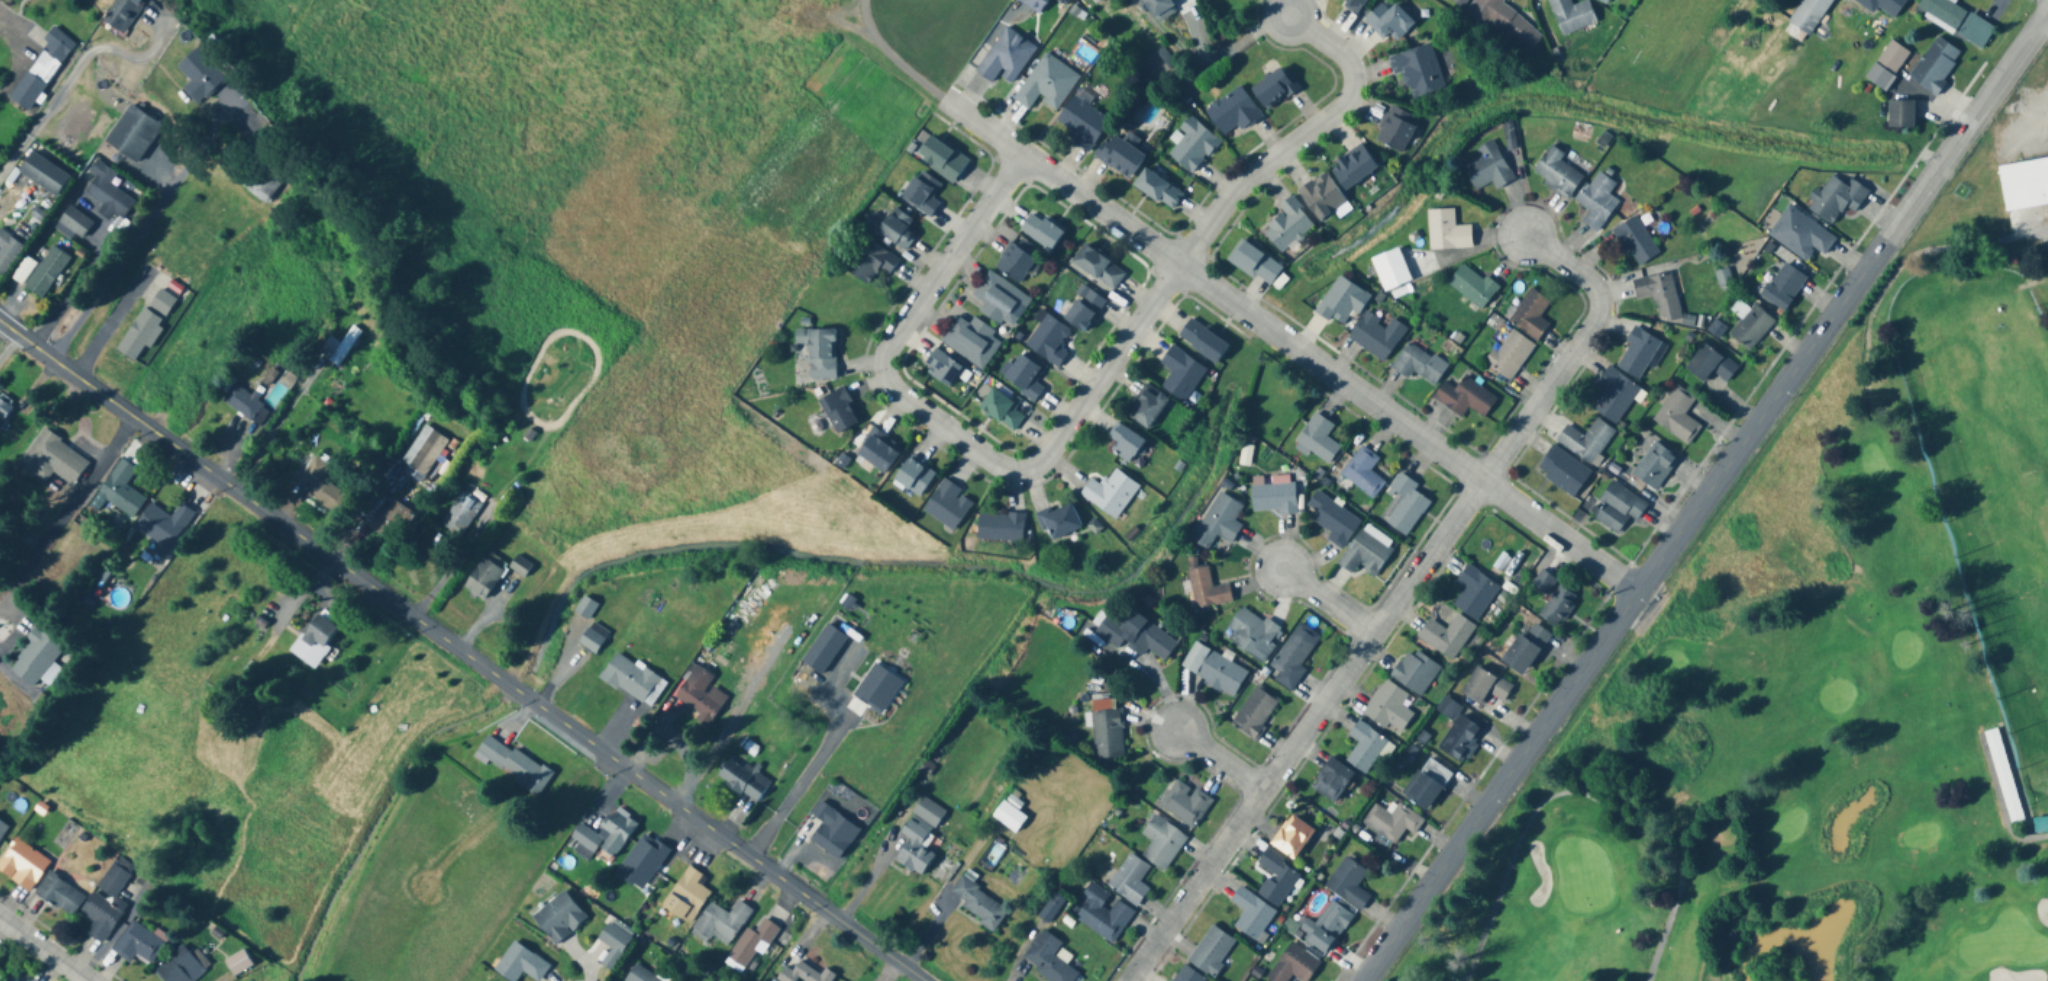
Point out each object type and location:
building: (1603, 1)
building: (1460, 2)
building: (1034, 4)
building: (1354, 5)
building: (1160, 9)
building: (1941, 12)
building: (123, 14)
building: (1571, 15)
building: (1806, 17)
building: (1389, 22)
building: (1503, 22)
road: (1225, 45)
road: (889, 55)
building: (1005, 58)
road: (67, 65)
building: (1886, 65)
building: (1934, 65)
building: (41, 70)
building: (1418, 71)
building: (201, 76)
building: (1047, 84)
building: (1273, 88)
building: (1232, 112)
building: (1899, 114)
building: (1082, 123)
building: (1396, 130)
building: (133, 134)
road: (1299, 136)
building: (1192, 145)
building: (1120, 156)
building: (940, 159)
building: (1353, 167)
building: (1488, 168)
building: (1556, 173)
building: (43, 174)
building: (2024, 181)
building: (262, 182)
building: (1157, 189)
building: (922, 193)
building: (1321, 196)
building: (108, 198)
building: (1836, 198)
building: (1597, 201)
building: (74, 222)
building: (1287, 225)
building: (892, 228)
building: (1041, 231)
building: (1446, 231)
road: (143, 232)
building: (1800, 234)
building: (1636, 240)
building: (8, 251)
building: (870, 261)
building: (1254, 262)
building: (1014, 263)
building: (1098, 266)
building: (46, 272)
building: (1473, 284)
building: (1783, 286)
road: (72, 288)
building: (1659, 295)
building: (1001, 301)
building: (1341, 301)
building: (1083, 309)
building: (1530, 314)
road: (104, 318)
building: (149, 321)
building: (1751, 327)
building: (1376, 336)
road: (7, 340)
building: (1049, 341)
building: (1202, 341)
building: (972, 342)
road: (1290, 342)
building: (339, 347)
building: (1637, 353)
building: (816, 354)
building: (1509, 355)
building: (1418, 364)
building: (1710, 365)
building: (942, 368)
building: (1180, 374)
building: (1024, 378)
building: (1613, 396)
building: (1464, 398)
building: (246, 406)
building: (1146, 407)
building: (5, 409)
building: (839, 411)
building: (1002, 411)
building: (1677, 416)
road: (950, 429)
building: (1318, 439)
building: (1586, 441)
building: (1124, 442)
building: (878, 450)
building: (424, 451)
building: (57, 455)
building: (1654, 466)
building: (1562, 470)
building: (1363, 472)
building: (914, 476)
building: (323, 486)
building: (121, 489)
building: (1110, 493)
building: (1273, 496)
road: (1706, 499)
road: (63, 502)
building: (1404, 504)
building: (947, 505)
building: (1617, 506)
building: (460, 516)
building: (388, 519)
building: (1333, 519)
building: (1058, 521)
building: (1217, 522)
building: (163, 524)
building: (1000, 527)
building: (1366, 552)
building: (496, 572)
building: (1543, 582)
building: (1206, 587)
building: (1474, 592)
road: (1327, 600)
road: (1396, 601)
building: (1558, 603)
building: (631, 611)
building: (589, 627)
building: (1252, 633)
building: (1134, 634)
building: (1446, 636)
building: (314, 643)
building: (1524, 647)
road: (457, 655)
building: (1294, 656)
building: (37, 659)
building: (1213, 669)
building: (1415, 672)
park: (1825, 672)
building: (632, 680)
building: (1485, 684)
building: (699, 693)
building: (1389, 709)
building: (1255, 713)
building: (1107, 729)
building: (1459, 735)
building: (1365, 748)
road: (1221, 759)
building: (512, 766)
building: (2004, 774)
building: (742, 780)
building: (1427, 780)
building: (1332, 781)
road: (789, 786)
road: (1582, 795)
building: (1185, 804)
road: (1998, 806)
building: (1008, 817)
building: (1393, 818)
building: (2040, 822)
building: (2, 830)
building: (618, 831)
building: (832, 831)
building: (918, 837)
building: (1291, 837)
building: (1161, 843)
building: (22, 865)
building: (1276, 878)
building: (1349, 878)
building: (1130, 880)
building: (60, 895)
building: (686, 896)
building: (978, 903)
building: (1102, 914)
building: (1251, 915)
building: (100, 917)
building: (559, 918)
building: (1721, 918)
building: (720, 923)
building: (1327, 924)
building: (1725, 932)
building: (139, 943)
building: (614, 943)
building: (752, 944)
road: (44, 949)
building: (1211, 951)
building: (1048, 959)
building: (237, 963)
building: (1294, 963)
building: (520, 964)
building: (181, 967)
building: (805, 974)
building: (640, 975)
building: (1187, 975)
building: (1249, 980)

